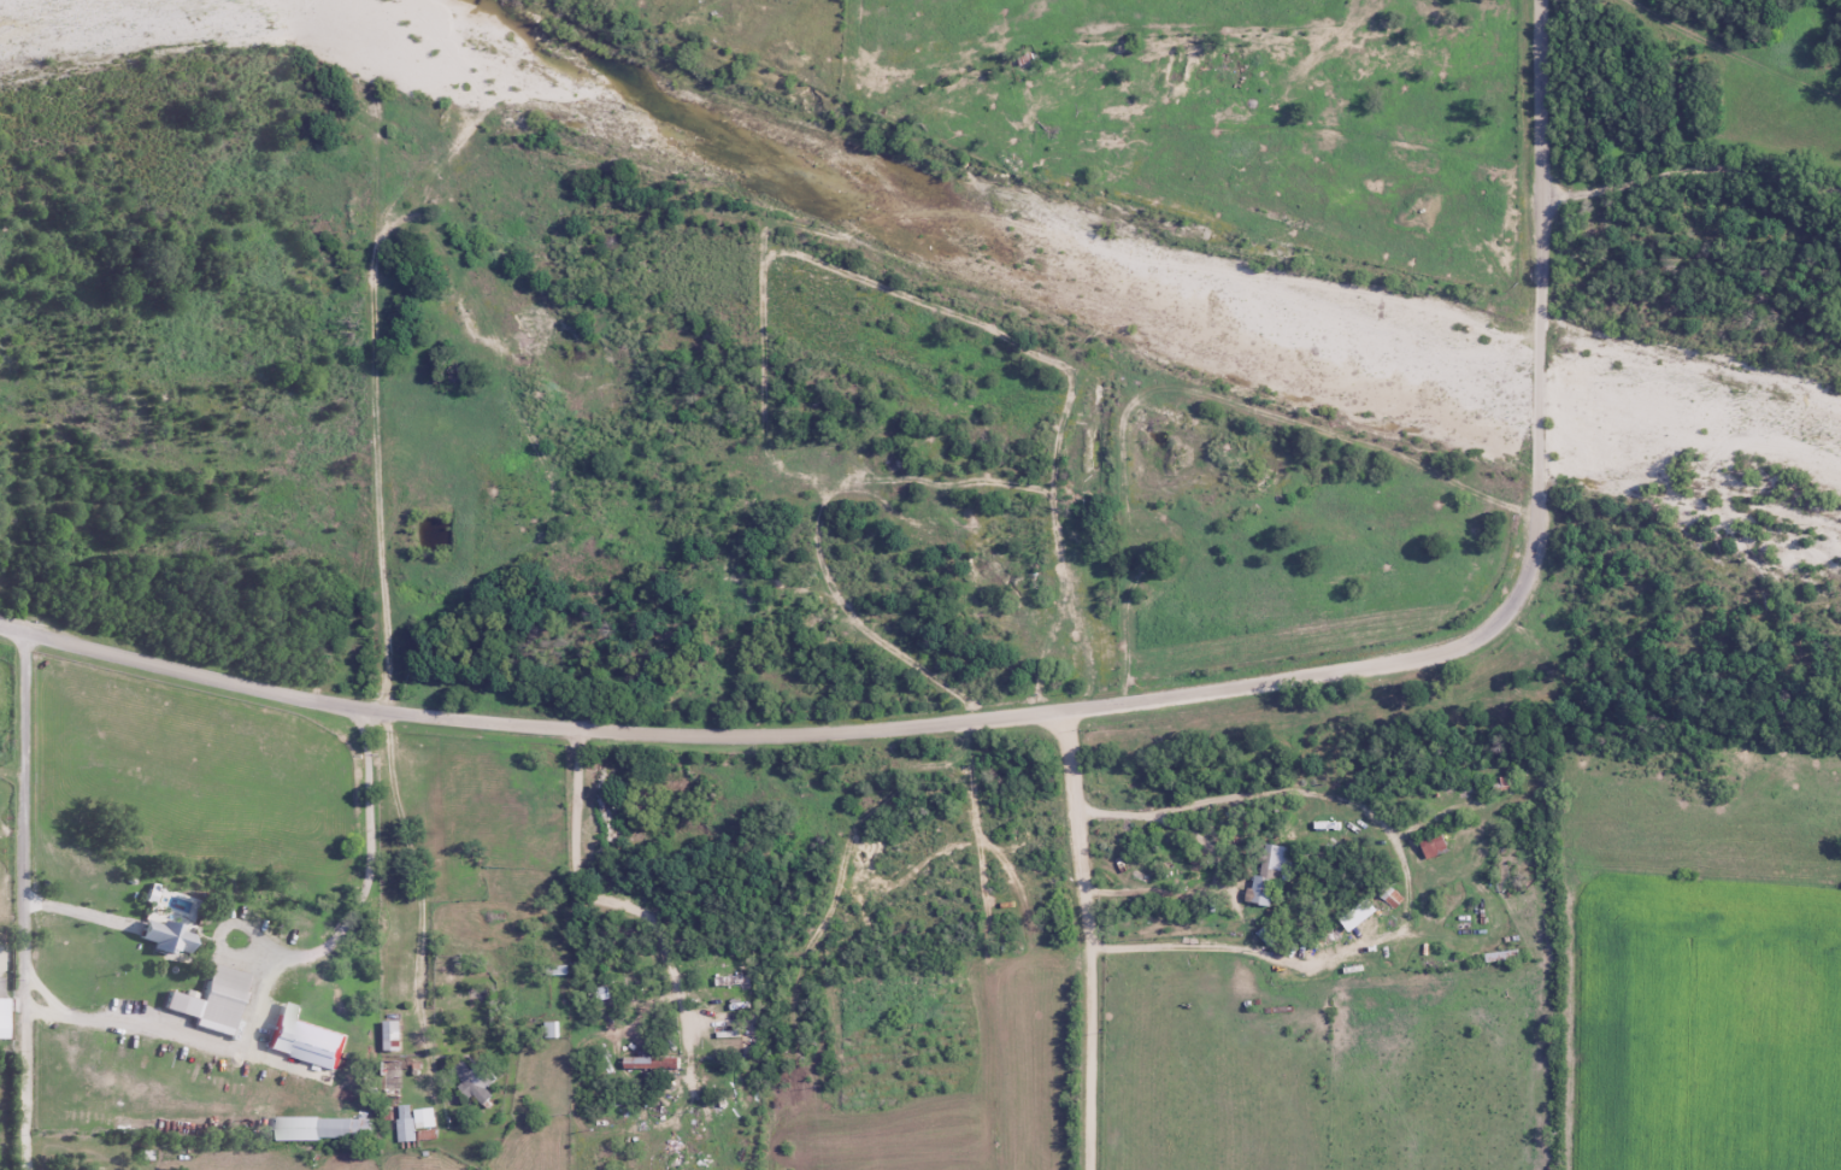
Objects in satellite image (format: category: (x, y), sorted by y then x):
road: (1730, 53)
road: (1689, 189)
road: (1541, 287)
road: (781, 737)
building: (1435, 846)
road: (1407, 875)
building: (1272, 876)
road: (418, 895)
road: (29, 901)
road: (599, 901)
road: (82, 913)
building: (1359, 915)
building: (166, 936)
road: (1088, 940)
road: (276, 953)
building: (213, 999)
building: (393, 1035)
building: (651, 1063)
building: (475, 1082)
building: (414, 1122)
building: (346, 1128)

